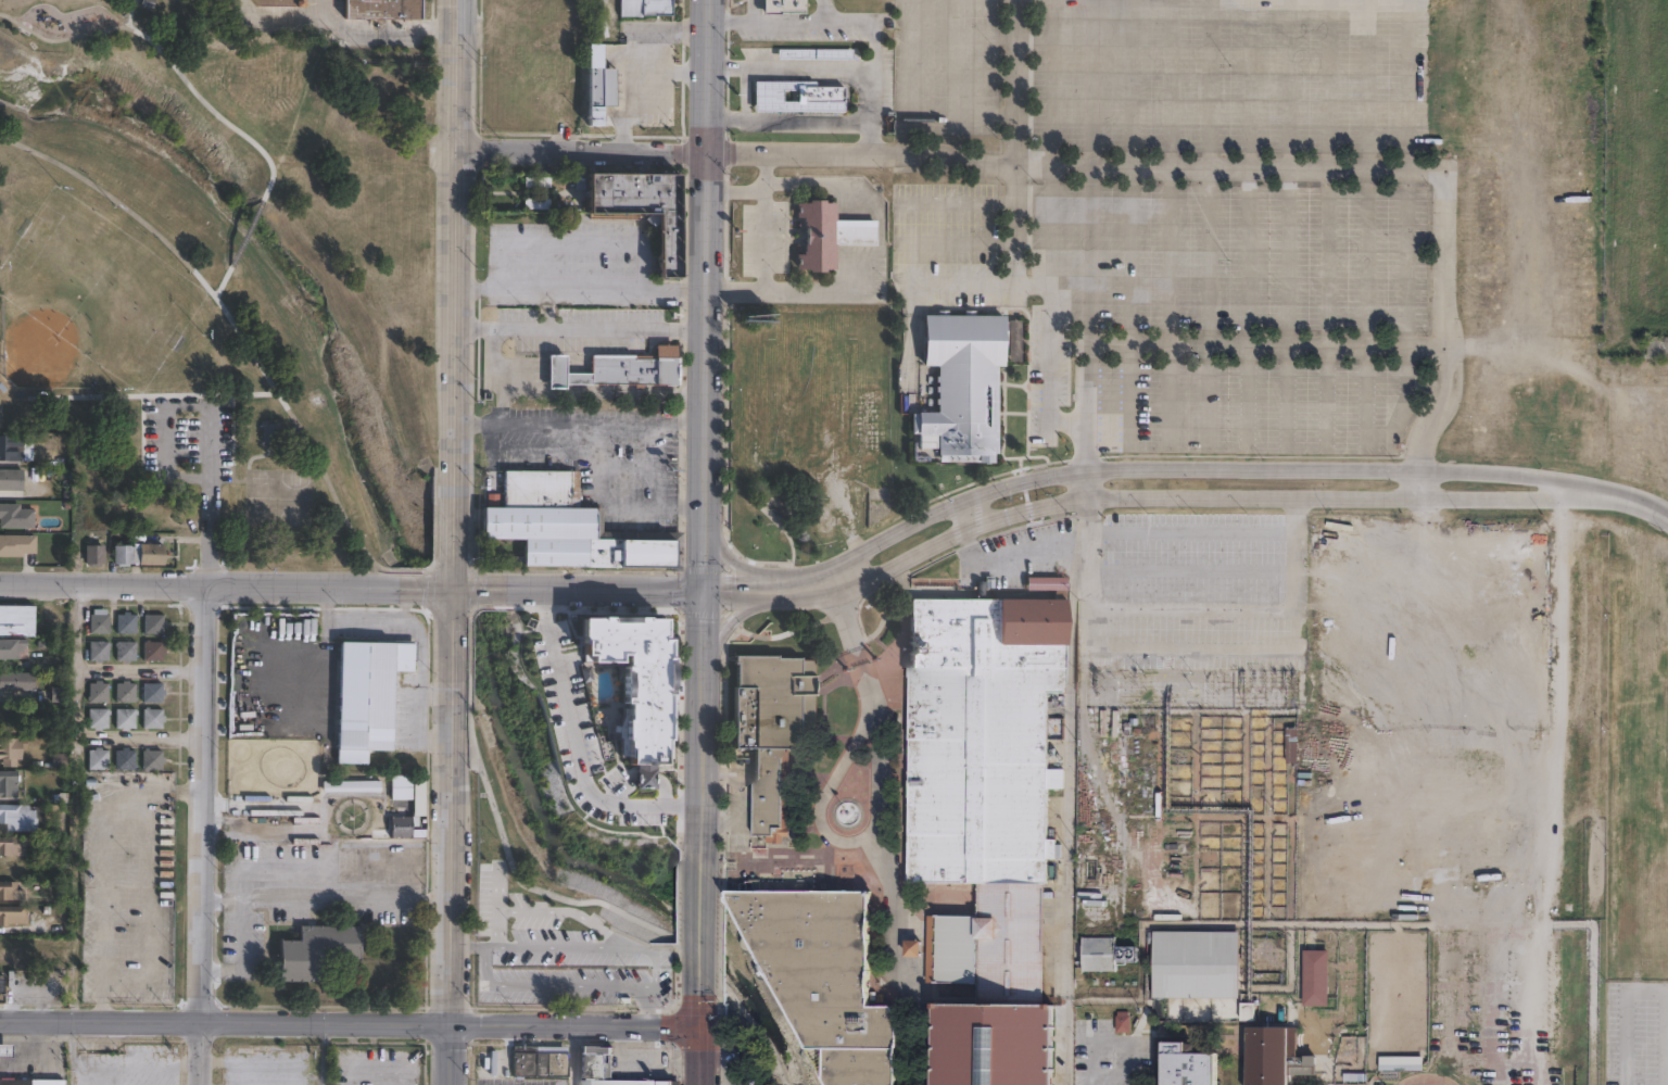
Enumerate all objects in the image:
building: (278, 3)
building: (783, 5)
building: (641, 8)
building: (380, 9)
road: (779, 22)
road: (871, 23)
road: (382, 29)
road: (655, 34)
road: (939, 35)
building: (814, 52)
road: (165, 55)
road: (789, 64)
road: (624, 70)
road: (1287, 84)
road: (1366, 85)
building: (592, 86)
road: (744, 91)
road: (872, 92)
building: (797, 94)
road: (900, 96)
road: (787, 119)
road: (871, 136)
road: (1051, 142)
road: (580, 149)
road: (732, 150)
road: (922, 153)
road: (1210, 168)
building: (536, 181)
building: (535, 203)
road: (952, 204)
building: (639, 207)
road: (1088, 212)
road: (1445, 217)
road: (1129, 223)
road: (1168, 223)
road: (1209, 224)
road: (1248, 224)
road: (1326, 224)
road: (245, 234)
building: (825, 235)
road: (457, 239)
road: (572, 240)
road: (952, 243)
road: (877, 244)
park: (227, 267)
road: (762, 270)
road: (222, 281)
road: (958, 283)
road: (580, 288)
road: (703, 294)
road: (1285, 307)
road: (1365, 308)
road: (1405, 314)
road: (227, 316)
building: (755, 317)
road: (1049, 317)
road: (580, 327)
road: (1265, 348)
building: (617, 369)
building: (960, 386)
road: (166, 404)
road: (579, 421)
building: (268, 432)
building: (10, 445)
parking lot: (598, 455)
road: (1192, 466)
building: (8, 478)
road: (1419, 482)
road: (1087, 484)
park: (261, 495)
road: (1357, 495)
road: (1623, 495)
park: (293, 496)
road: (1498, 496)
road: (1059, 503)
road: (610, 507)
building: (147, 510)
road: (964, 514)
road: (1297, 515)
building: (16, 516)
building: (563, 526)
road: (207, 529)
road: (454, 532)
building: (17, 545)
parking lot: (1028, 551)
road: (1007, 553)
building: (150, 554)
building: (93, 555)
building: (122, 556)
road: (735, 564)
road: (429, 569)
road: (1192, 569)
building: (1045, 582)
road: (810, 583)
road: (103, 584)
road: (298, 585)
road: (421, 585)
road: (478, 586)
road: (1089, 588)
road: (602, 589)
road: (743, 590)
parking lot: (1191, 590)
traffic signals: (702, 591)
road: (478, 593)
road: (1296, 598)
road: (454, 605)
road: (1192, 608)
road: (735, 616)
road: (847, 619)
building: (15, 620)
building: (97, 622)
building: (124, 622)
building: (151, 622)
road: (702, 629)
building: (13, 648)
building: (97, 648)
building: (124, 649)
building: (151, 649)
road: (149, 667)
road: (468, 679)
building: (16, 681)
building: (636, 685)
building: (97, 691)
building: (150, 691)
building: (123, 692)
building: (367, 694)
road: (1216, 709)
parking lot: (611, 712)
building: (96, 717)
building: (123, 718)
building: (150, 718)
building: (771, 731)
building: (981, 736)
road: (146, 737)
road: (574, 746)
building: (11, 748)
building: (96, 758)
building: (122, 758)
building: (149, 758)
road: (1158, 761)
road: (702, 769)
building: (11, 783)
building: (351, 786)
road: (1069, 786)
road: (824, 791)
building: (421, 796)
road: (203, 804)
building: (401, 805)
road: (1195, 815)
road: (1267, 815)
road: (1210, 816)
road: (1244, 816)
building: (21, 818)
road: (453, 824)
road: (880, 833)
building: (13, 846)
road: (816, 858)
road: (742, 861)
building: (1101, 869)
road: (722, 873)
road: (1290, 873)
parking lot: (126, 886)
building: (12, 892)
road: (327, 905)
road: (616, 911)
building: (14, 917)
road: (702, 920)
road: (1215, 922)
road: (722, 942)
building: (991, 942)
building: (913, 947)
road: (591, 948)
building: (316, 949)
road: (469, 949)
building: (1094, 956)
parking lot: (556, 957)
building: (813, 960)
building: (1196, 963)
building: (1315, 977)
building: (1545, 979)
road: (552, 987)
building: (1, 988)
road: (1645, 989)
road: (702, 998)
road: (645, 1008)
building: (1269, 1011)
building: (1247, 1012)
building: (1121, 1021)
road: (101, 1022)
road: (327, 1025)
road: (577, 1027)
traffic signals: (702, 1029)
parking lot: (1637, 1032)
road: (1120, 1038)
road: (722, 1039)
road: (733, 1044)
road: (909, 1044)
road: (923, 1044)
building: (994, 1045)
stadium: (994, 1045)
building: (4, 1050)
gas station: (4, 1050)
road: (202, 1055)
road: (323, 1055)
building: (1268, 1055)
road: (452, 1056)
road: (571, 1056)
parking lot: (1112, 1056)
road: (700, 1057)
road: (37, 1062)
building: (538, 1062)
building: (851, 1063)
building: (1186, 1065)
parking lot: (380, 1067)
building: (605, 1070)
road: (773, 1073)
building: (1395, 1073)
building: (14, 1082)
building: (46, 1082)
parking lot: (514, 1084)
road: (1081, 1084)

